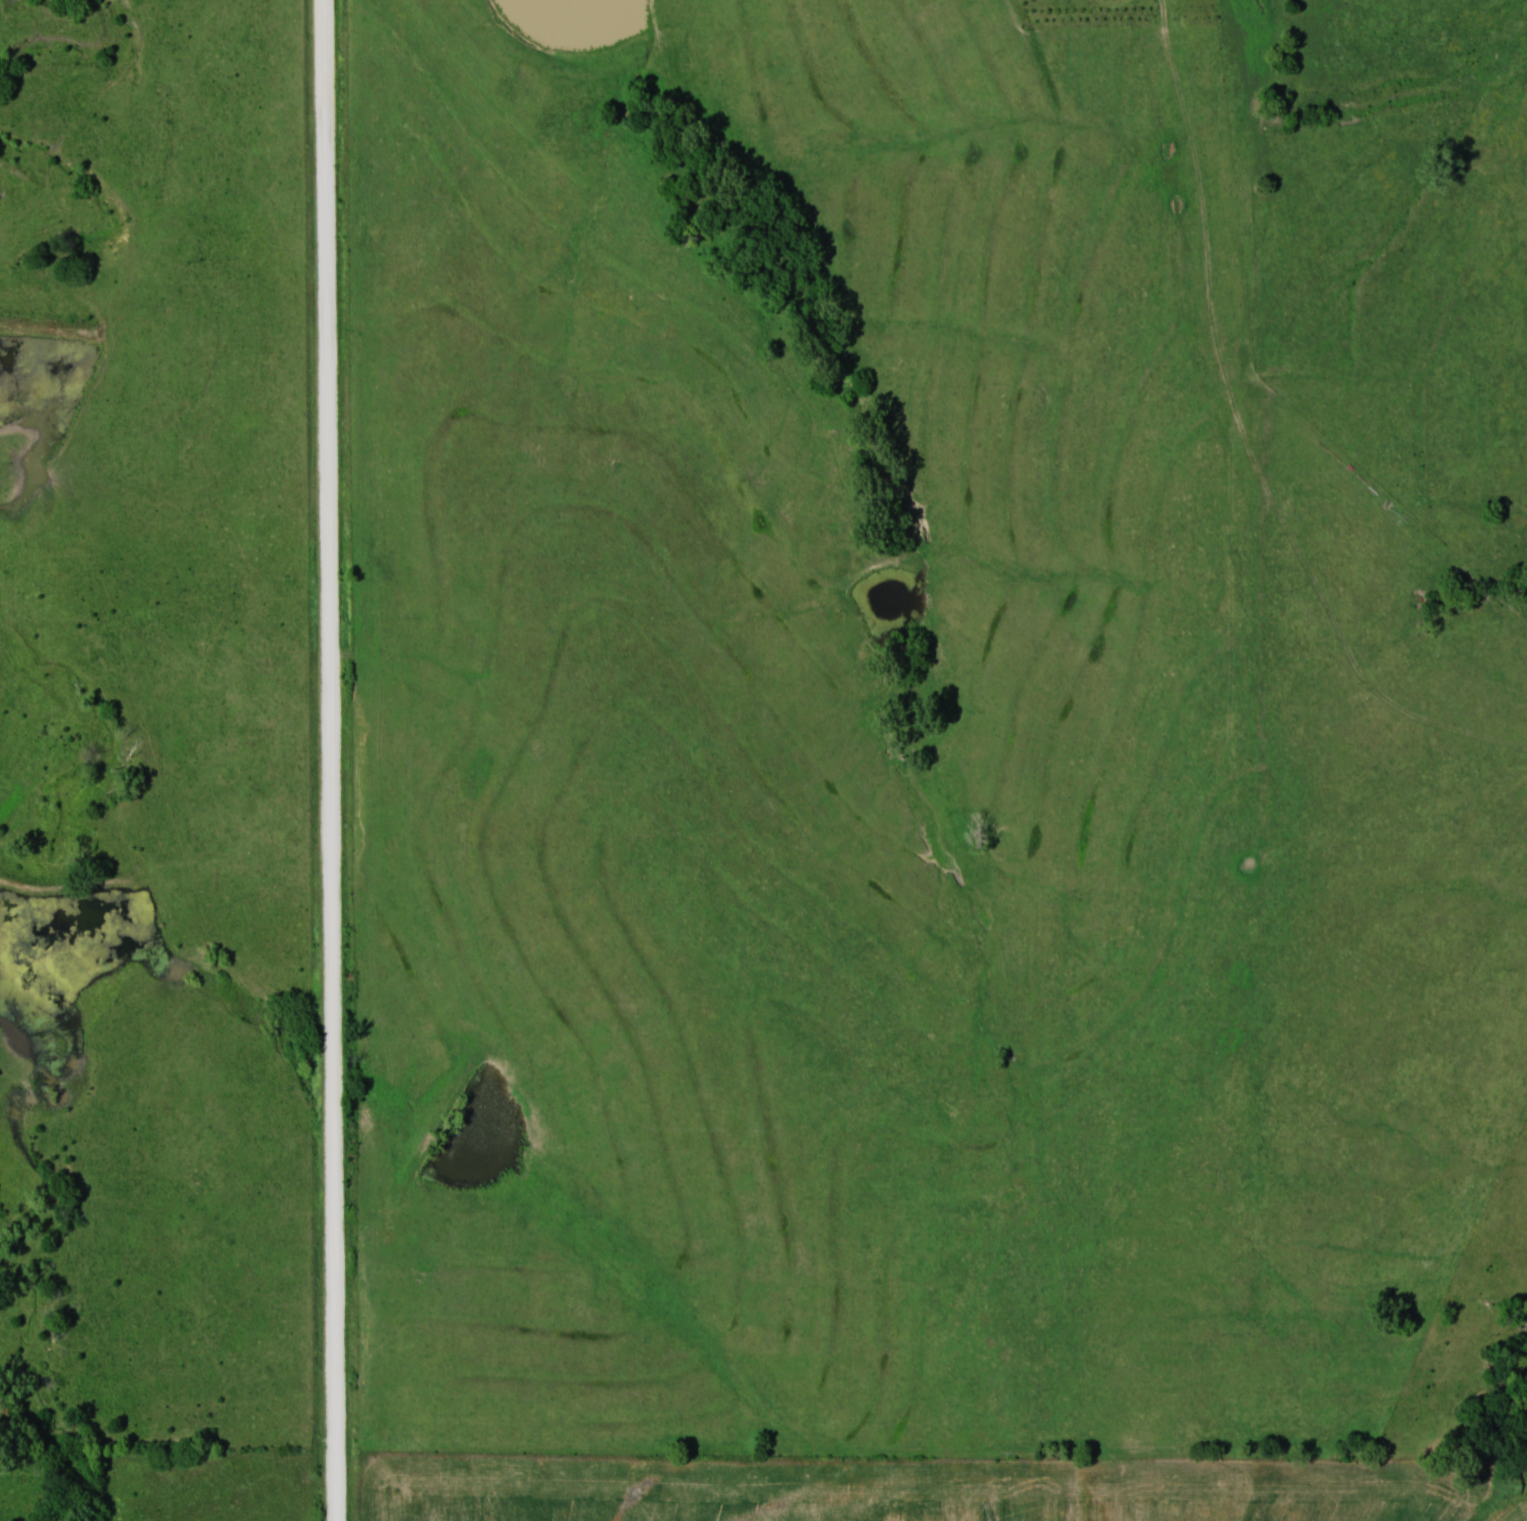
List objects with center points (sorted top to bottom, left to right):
road: (331, 760)

